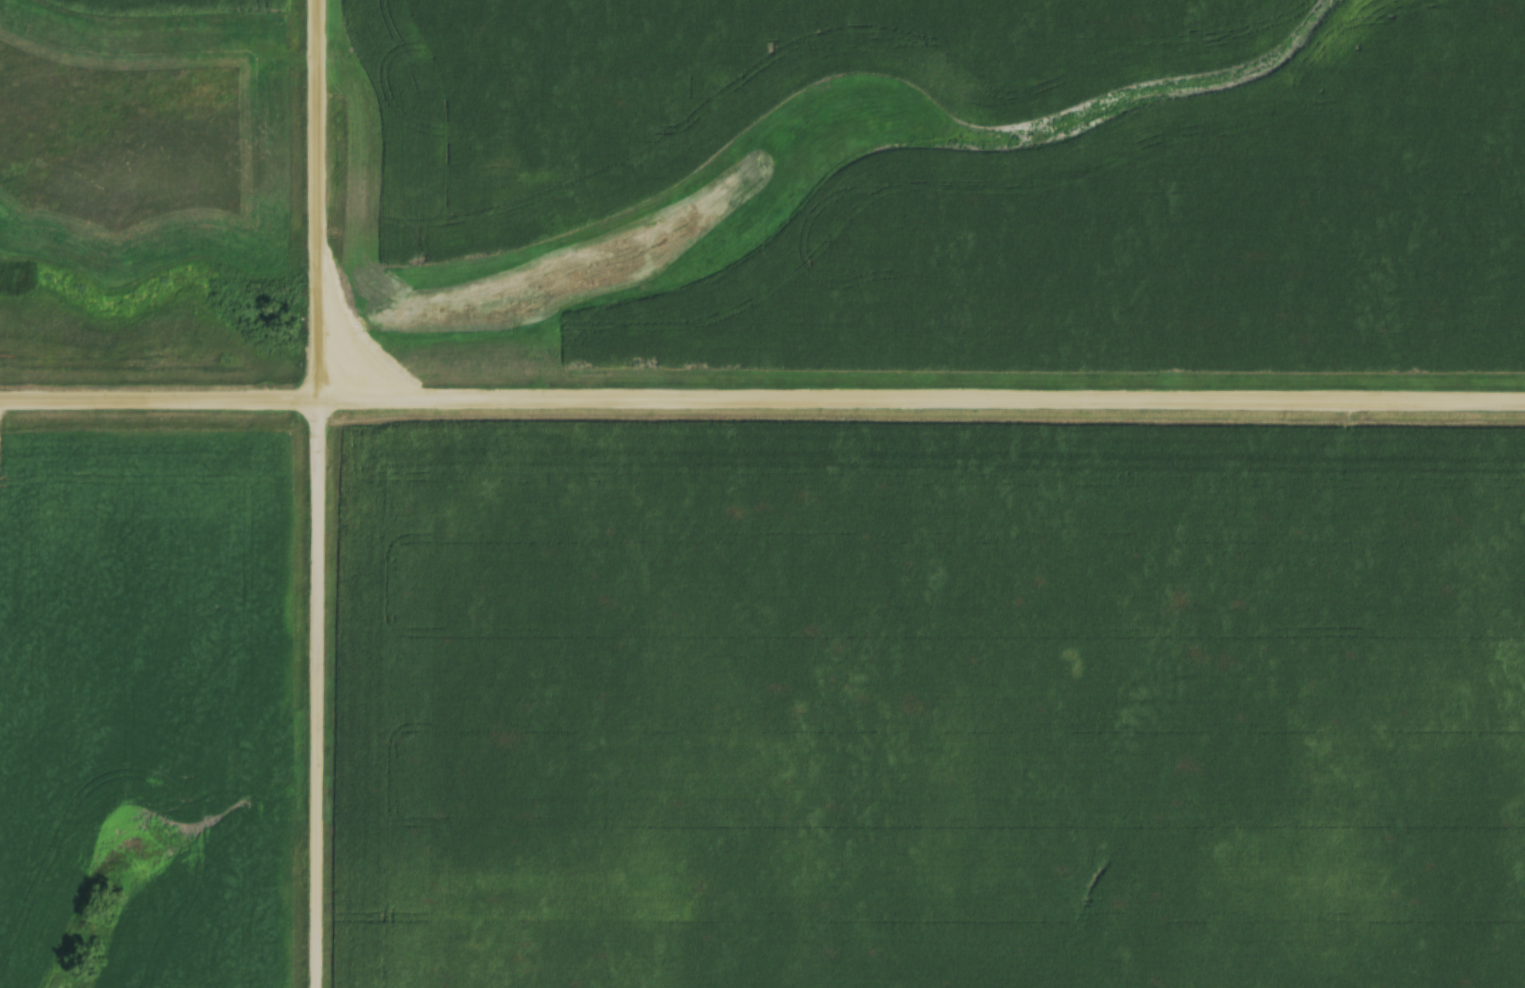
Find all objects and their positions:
road: (762, 396)
road: (319, 494)

